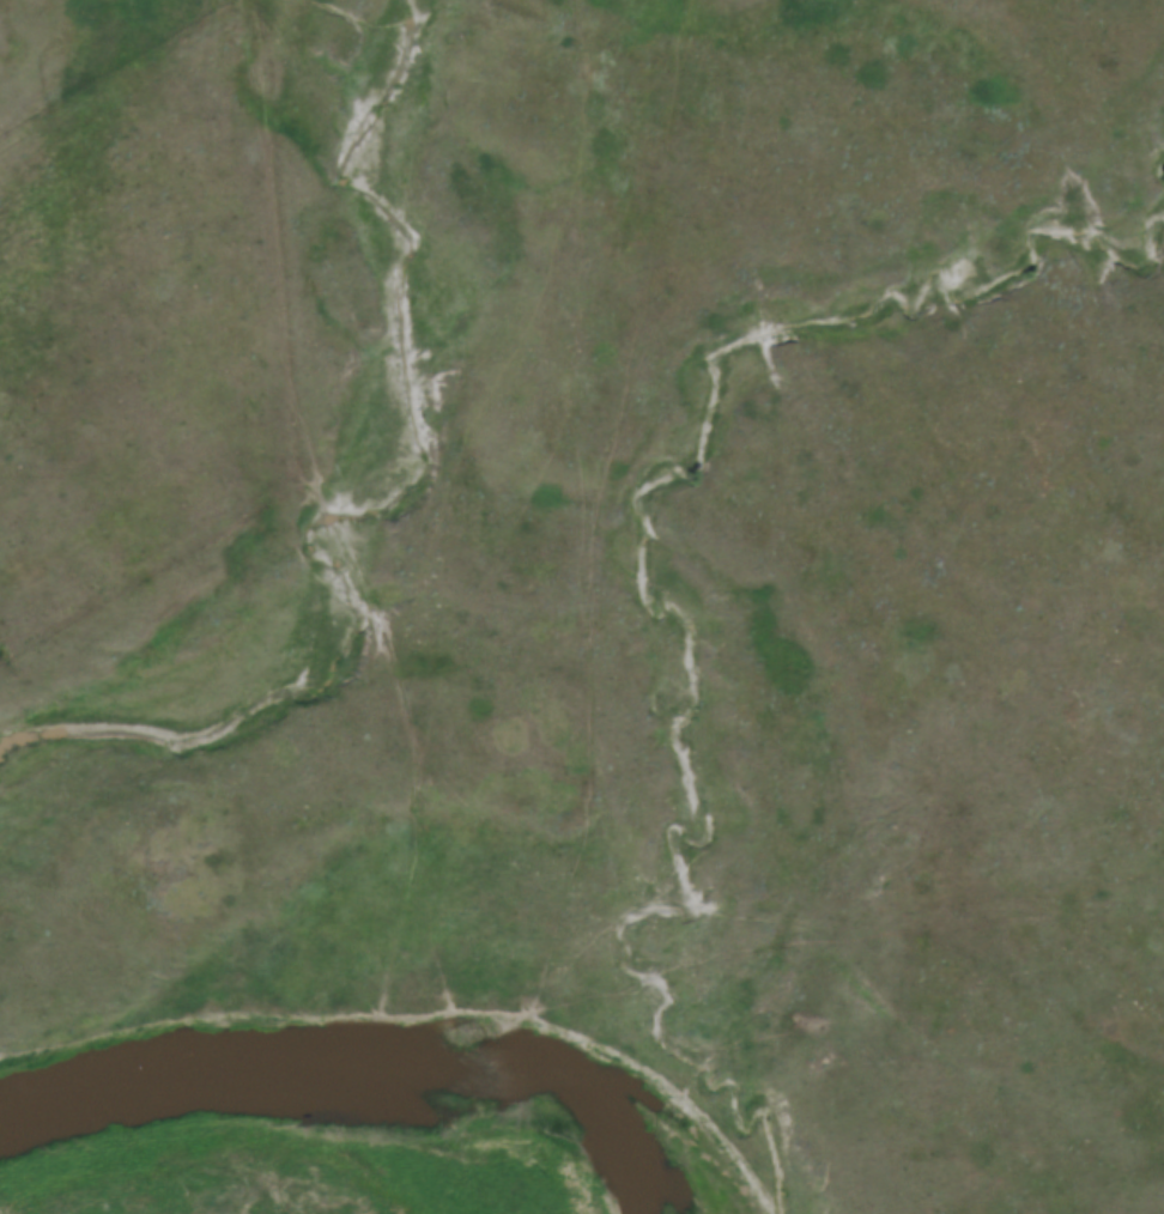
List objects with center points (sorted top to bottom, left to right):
river: (362, 1075)

